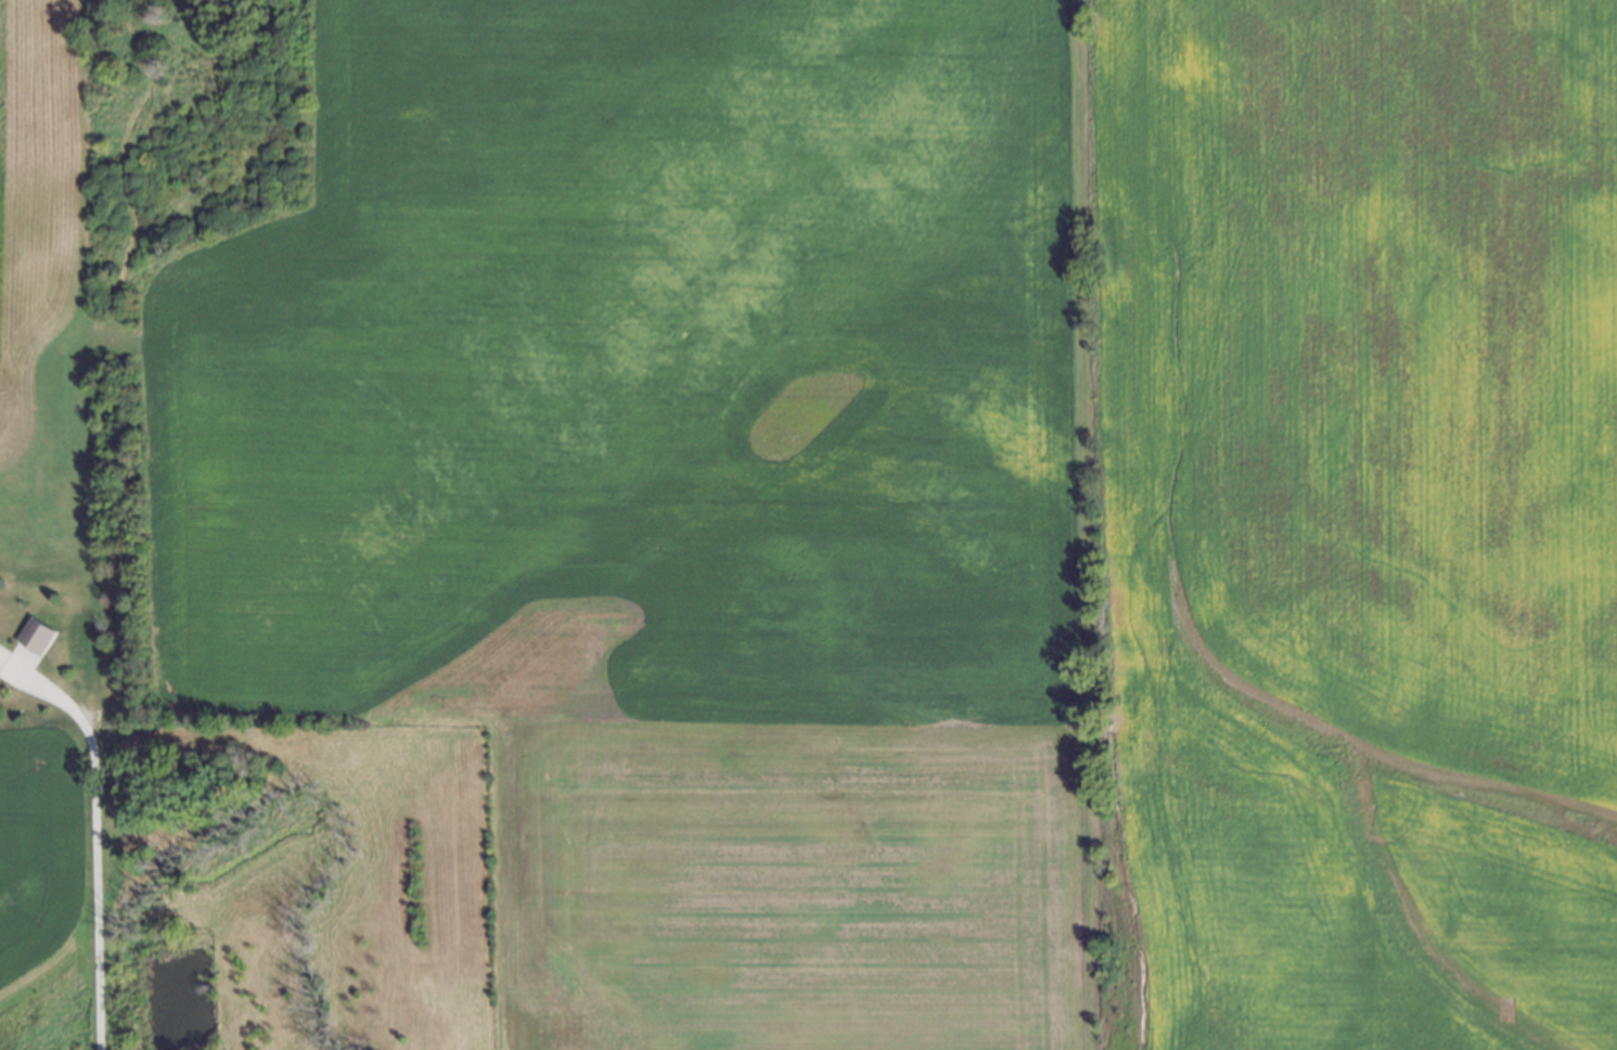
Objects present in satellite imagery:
building: (34, 632)
road: (88, 832)

